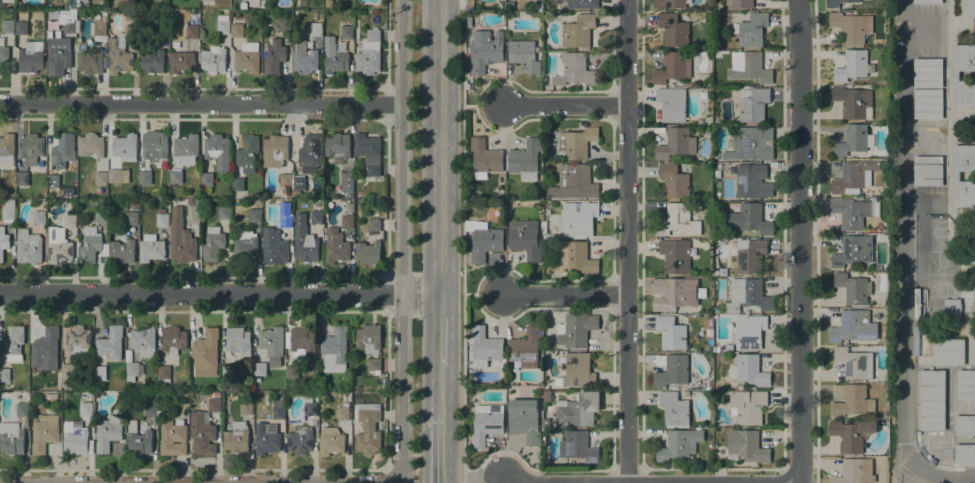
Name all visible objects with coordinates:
building: (204, 0)
building: (928, 1)
building: (8, 3)
building: (253, 3)
building: (742, 3)
building: (838, 3)
building: (264, 4)
building: (469, 4)
building: (583, 4)
building: (668, 4)
building: (244, 5)
building: (970, 8)
building: (130, 16)
building: (104, 18)
building: (223, 24)
building: (285, 25)
building: (8, 26)
building: (69, 26)
building: (851, 26)
building: (237, 27)
building: (20, 28)
building: (100, 28)
building: (162, 28)
building: (130, 29)
building: (316, 29)
building: (674, 30)
building: (751, 30)
building: (192, 31)
building: (347, 32)
building: (579, 32)
road: (386, 45)
building: (715, 46)
building: (485, 50)
building: (3, 53)
building: (369, 54)
building: (524, 55)
building: (119, 56)
building: (31, 57)
building: (58, 57)
building: (248, 57)
building: (274, 57)
building: (304, 58)
building: (964, 58)
building: (89, 59)
building: (213, 59)
building: (335, 59)
building: (152, 61)
building: (181, 62)
building: (852, 66)
building: (673, 67)
building: (749, 67)
building: (575, 70)
building: (927, 73)
building: (956, 76)
road: (962, 76)
road: (949, 86)
building: (964, 94)
building: (853, 101)
road: (201, 102)
road: (386, 103)
building: (672, 104)
building: (753, 104)
building: (928, 104)
road: (482, 105)
road: (564, 105)
building: (852, 140)
building: (577, 142)
building: (676, 143)
building: (751, 144)
building: (91, 145)
building: (338, 145)
building: (124, 146)
building: (155, 146)
road: (441, 147)
building: (31, 148)
building: (6, 149)
building: (186, 149)
building: (63, 150)
building: (218, 150)
building: (275, 151)
building: (248, 153)
building: (369, 153)
building: (311, 154)
building: (964, 158)
building: (485, 159)
building: (526, 159)
building: (42, 166)
building: (717, 167)
building: (928, 171)
building: (118, 176)
building: (176, 176)
building: (854, 176)
building: (956, 176)
building: (145, 177)
building: (101, 178)
building: (22, 179)
building: (207, 179)
building: (285, 180)
building: (347, 181)
building: (674, 181)
building: (752, 181)
building: (53, 182)
building: (574, 182)
building: (299, 183)
building: (238, 184)
building: (280, 191)
building: (174, 193)
building: (295, 194)
building: (964, 194)
road: (386, 197)
road: (949, 198)
building: (133, 202)
building: (8, 210)
building: (192, 212)
building: (224, 212)
building: (101, 213)
building: (850, 213)
building: (255, 215)
building: (39, 217)
building: (316, 217)
building: (131, 218)
building: (162, 218)
building: (578, 218)
building: (751, 218)
building: (286, 220)
building: (70, 221)
building: (348, 221)
building: (678, 221)
building: (373, 225)
building: (181, 238)
road: (402, 239)
building: (526, 239)
building: (305, 240)
building: (483, 240)
road: (463, 241)
road: (627, 241)
road: (800, 241)
building: (3, 242)
building: (213, 244)
building: (90, 245)
building: (58, 246)
building: (245, 246)
building: (273, 246)
building: (335, 246)
building: (28, 247)
building: (151, 248)
building: (853, 250)
building: (122, 251)
building: (368, 252)
building: (675, 255)
building: (750, 255)
building: (576, 258)
road: (904, 266)
building: (853, 288)
road: (387, 292)
road: (482, 293)
road: (564, 293)
building: (673, 293)
road: (220, 294)
building: (748, 295)
building: (952, 309)
building: (717, 310)
building: (853, 327)
building: (575, 330)
road: (441, 331)
building: (750, 331)
building: (671, 333)
building: (369, 338)
building: (173, 340)
building: (78, 341)
building: (143, 342)
building: (238, 342)
building: (110, 343)
building: (14, 344)
building: (272, 344)
building: (304, 345)
building: (45, 346)
building: (485, 347)
building: (525, 348)
building: (335, 349)
building: (716, 349)
building: (948, 351)
building: (205, 353)
building: (854, 363)
building: (373, 364)
building: (259, 369)
building: (671, 370)
building: (749, 370)
building: (133, 371)
building: (576, 371)
building: (227, 372)
building: (292, 372)
building: (100, 373)
building: (5, 374)
building: (164, 374)
building: (68, 375)
building: (257, 379)
building: (965, 384)
road: (441, 390)
building: (89, 394)
building: (181, 395)
building: (51, 396)
building: (547, 396)
building: (932, 399)
building: (851, 400)
building: (214, 402)
building: (747, 406)
building: (310, 407)
building: (150, 408)
building: (247, 408)
building: (674, 408)
building: (22, 409)
building: (86, 409)
building: (578, 409)
building: (279, 412)
building: (343, 412)
building: (524, 420)
building: (547, 422)
building: (485, 424)
building: (964, 424)
building: (368, 429)
building: (44, 432)
building: (108, 432)
building: (202, 433)
building: (852, 434)
building: (11, 438)
building: (173, 438)
building: (237, 438)
building: (77, 439)
building: (138, 439)
building: (266, 439)
building: (300, 439)
building: (331, 441)
building: (679, 444)
building: (578, 446)
building: (746, 446)
road: (440, 448)
building: (964, 453)
road: (531, 467)
road: (801, 467)
road: (713, 468)
road: (275, 469)
road: (627, 470)
building: (855, 472)
road: (907, 474)
road: (817, 475)
road: (395, 476)
road: (917, 477)
road: (393, 480)
road: (498, 480)
road: (540, 482)

